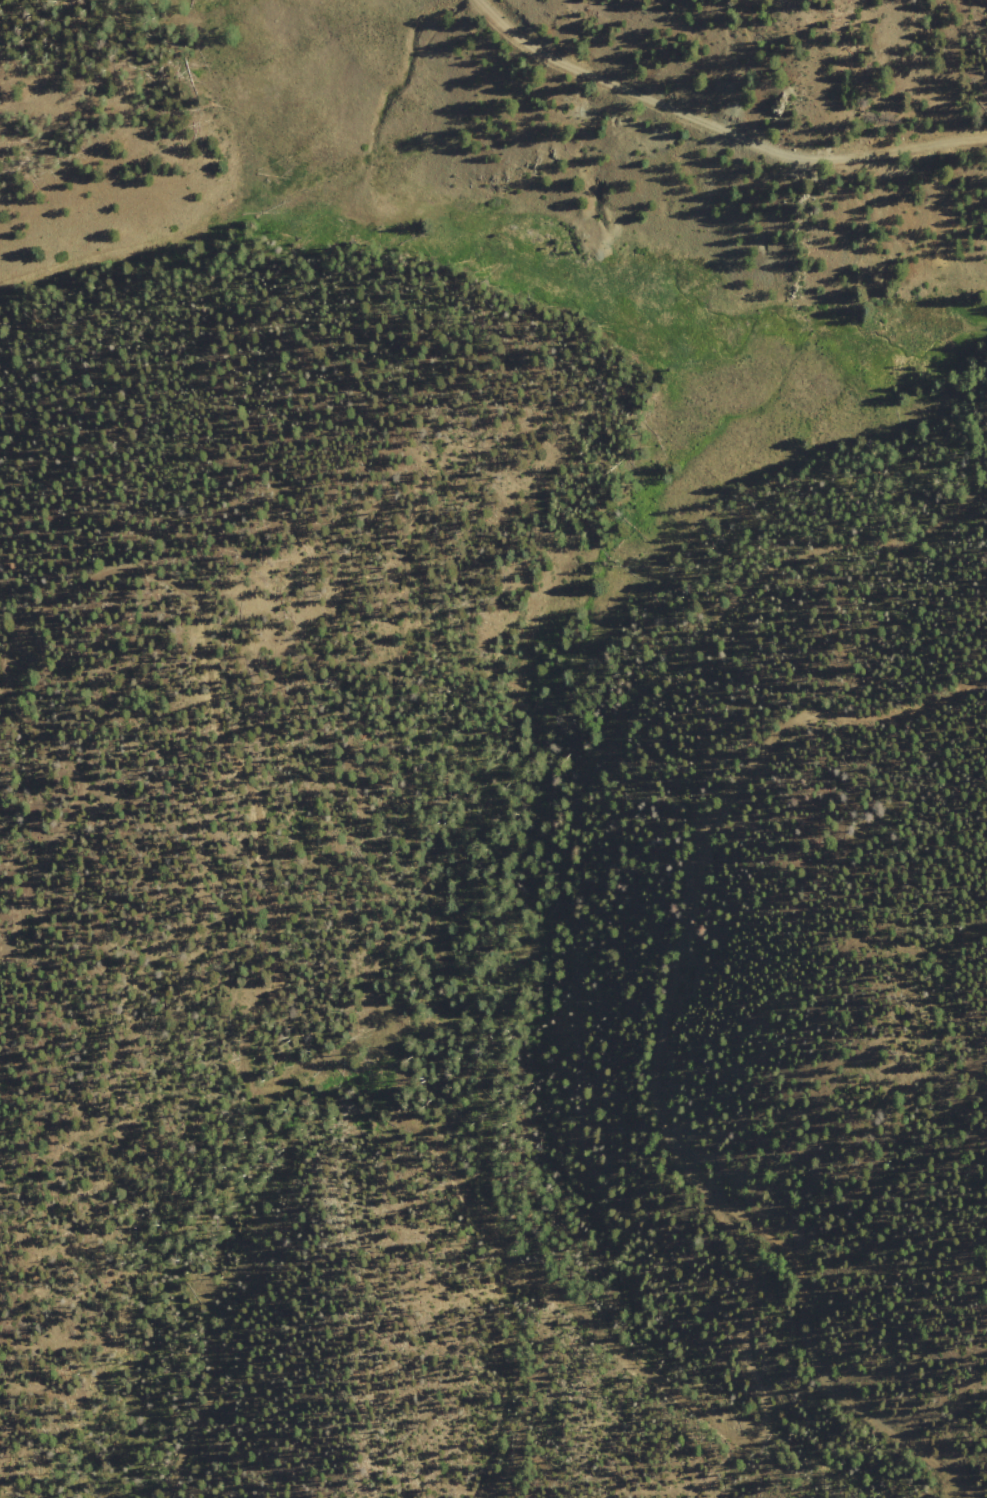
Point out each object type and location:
road: (751, 93)
road: (738, 1067)

